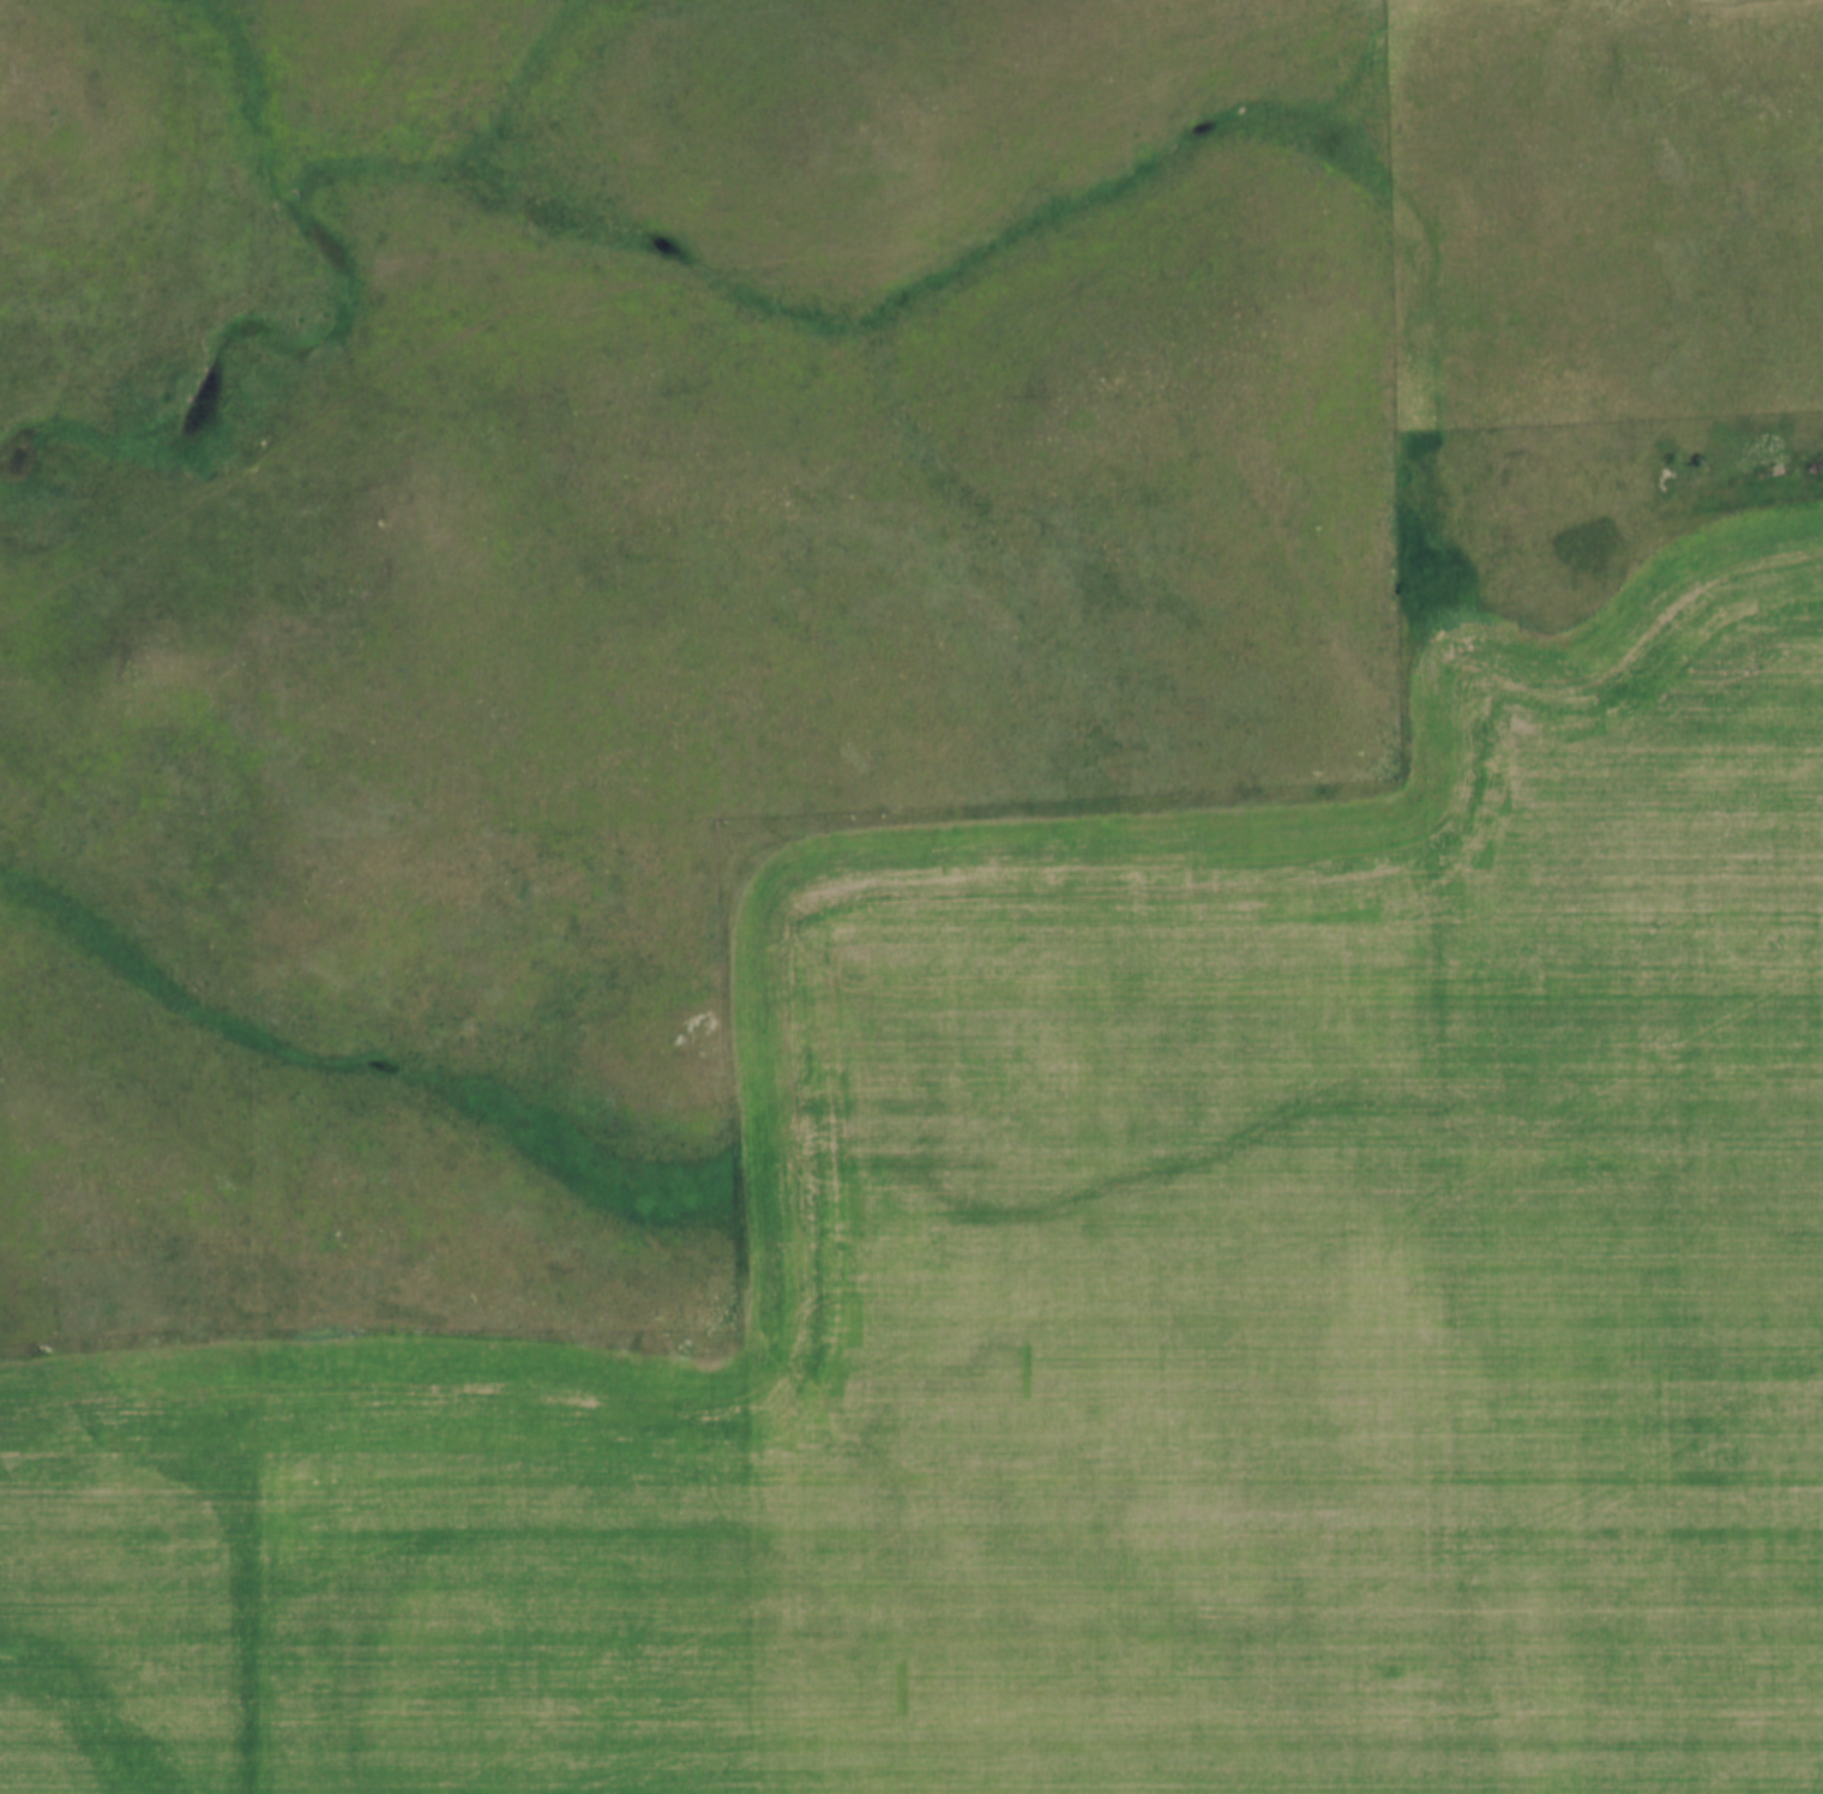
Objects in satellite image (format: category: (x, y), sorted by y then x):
road: (1419, 765)

